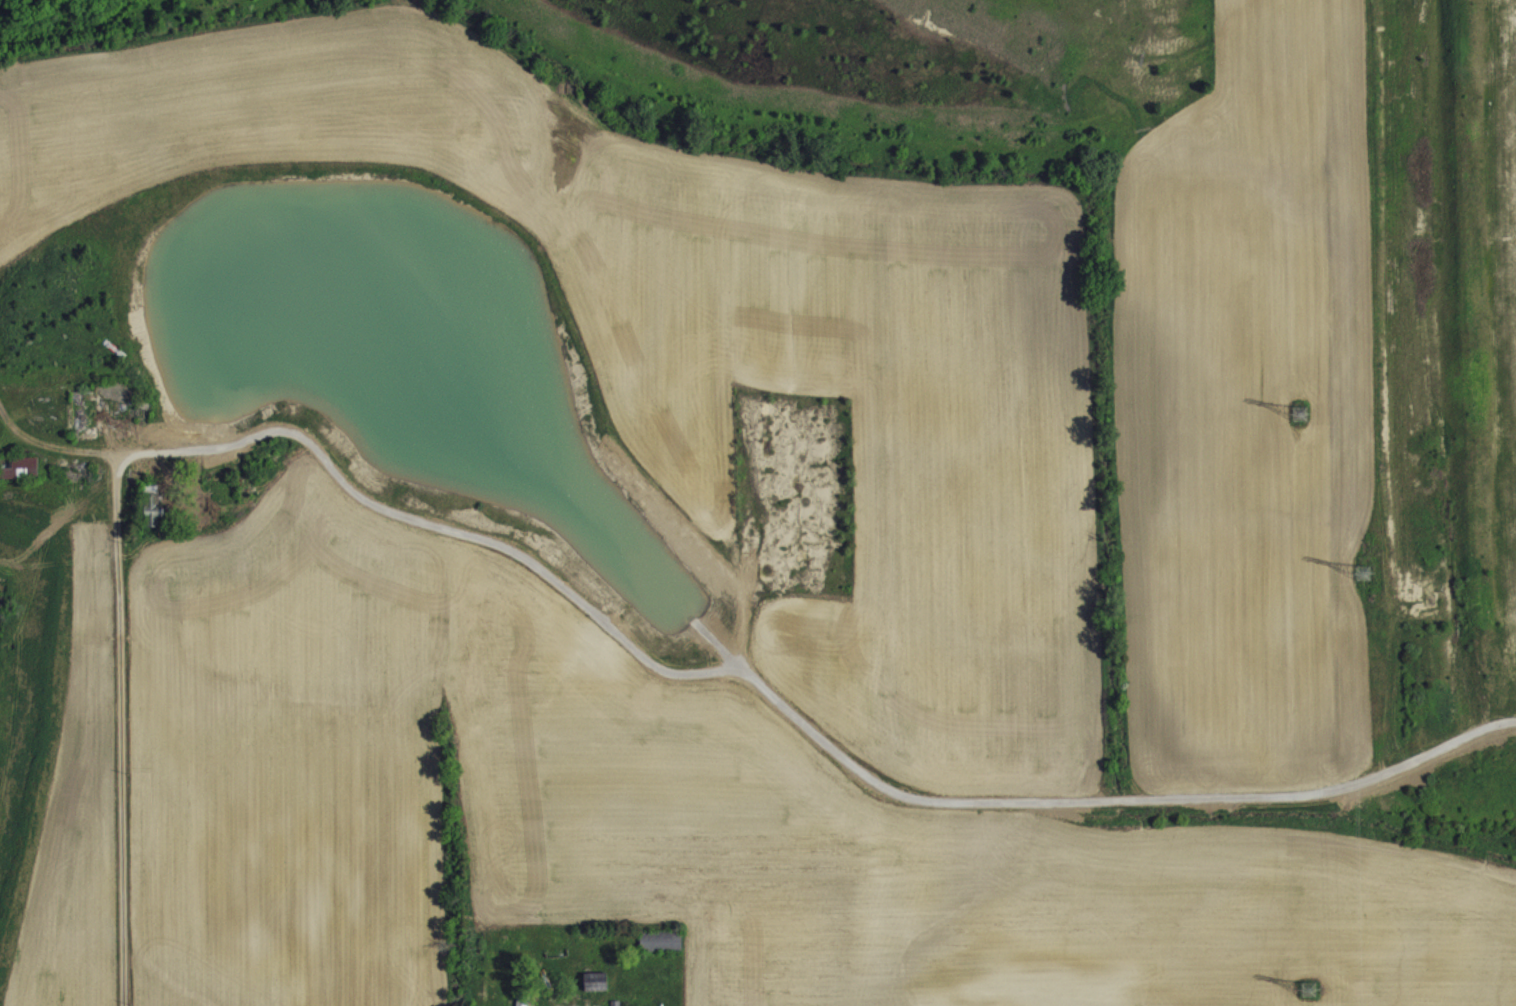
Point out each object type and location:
power tower: (1300, 406)
building: (20, 466)
building: (22, 478)
building: (151, 503)
power tower: (1369, 572)
road: (122, 731)
building: (662, 952)
power tower: (1313, 984)
building: (596, 992)
building: (522, 1005)

